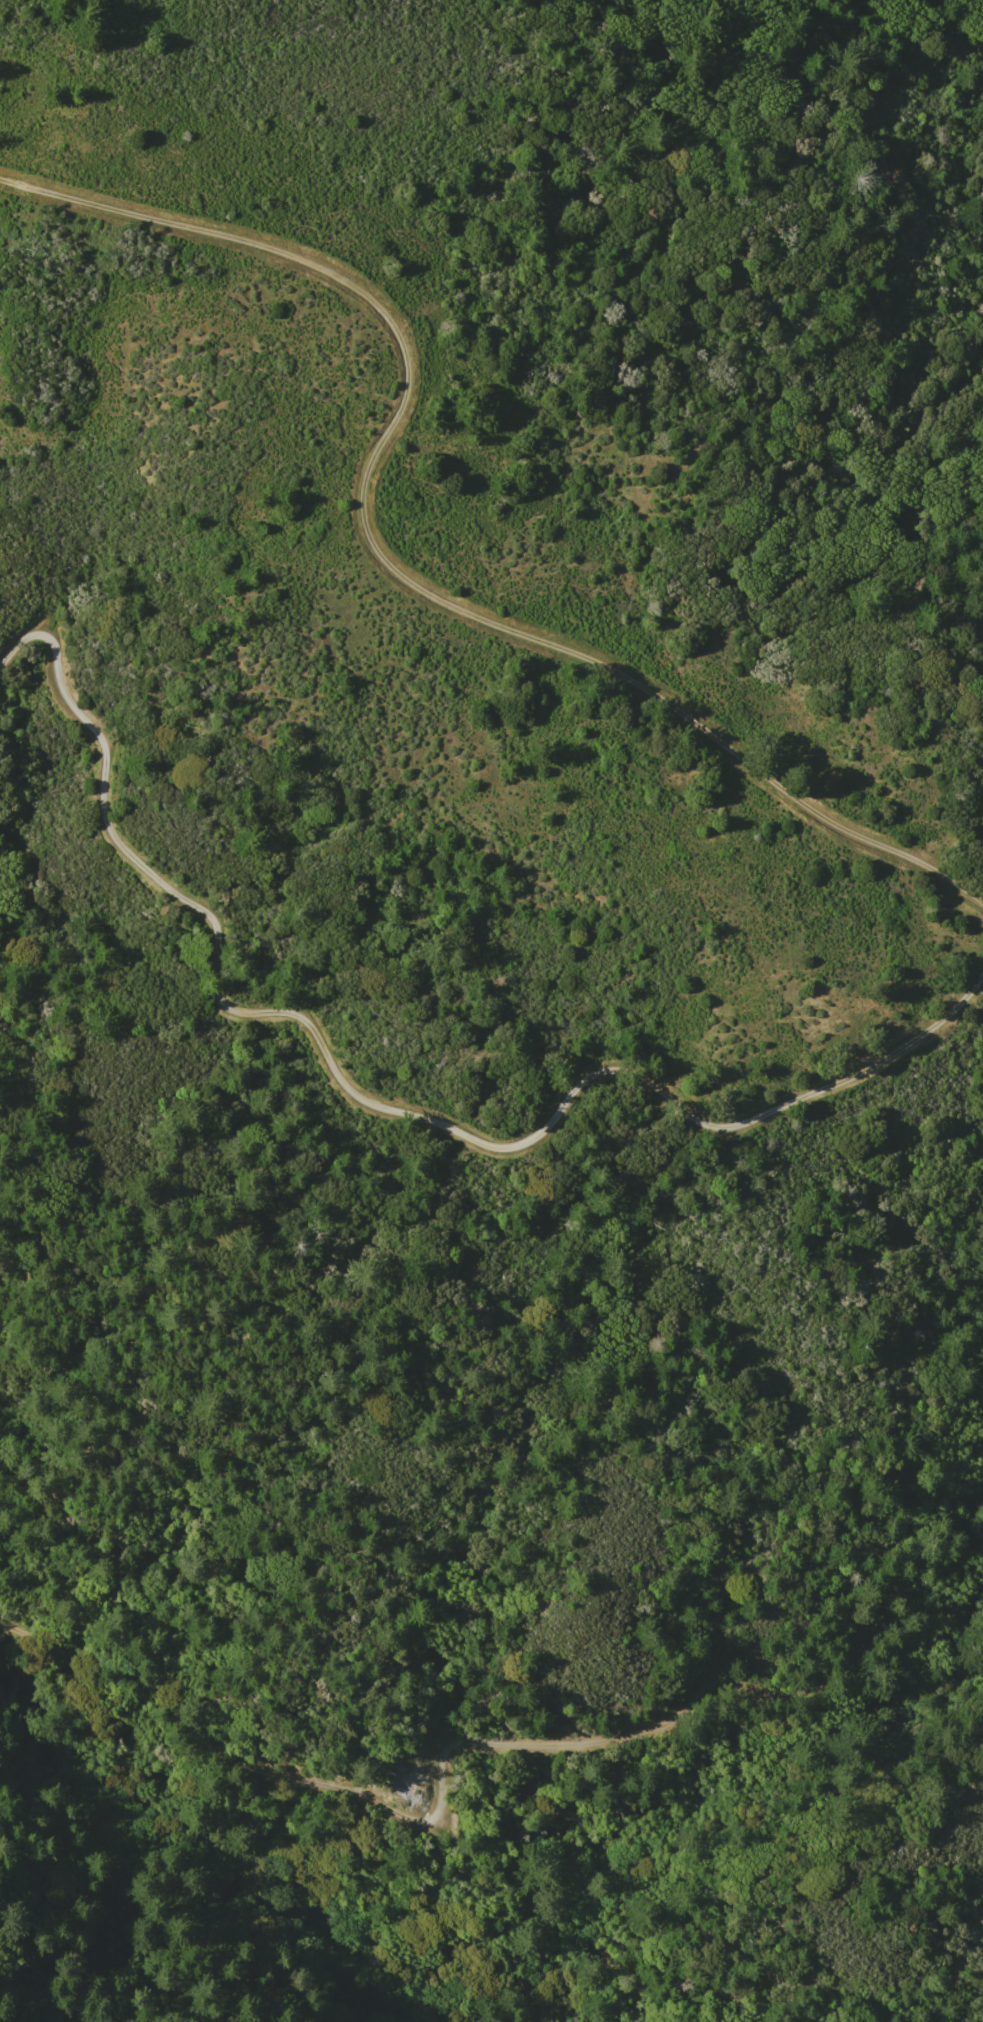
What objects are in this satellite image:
road: (390, 563)
road: (381, 1104)
road: (464, 1743)

